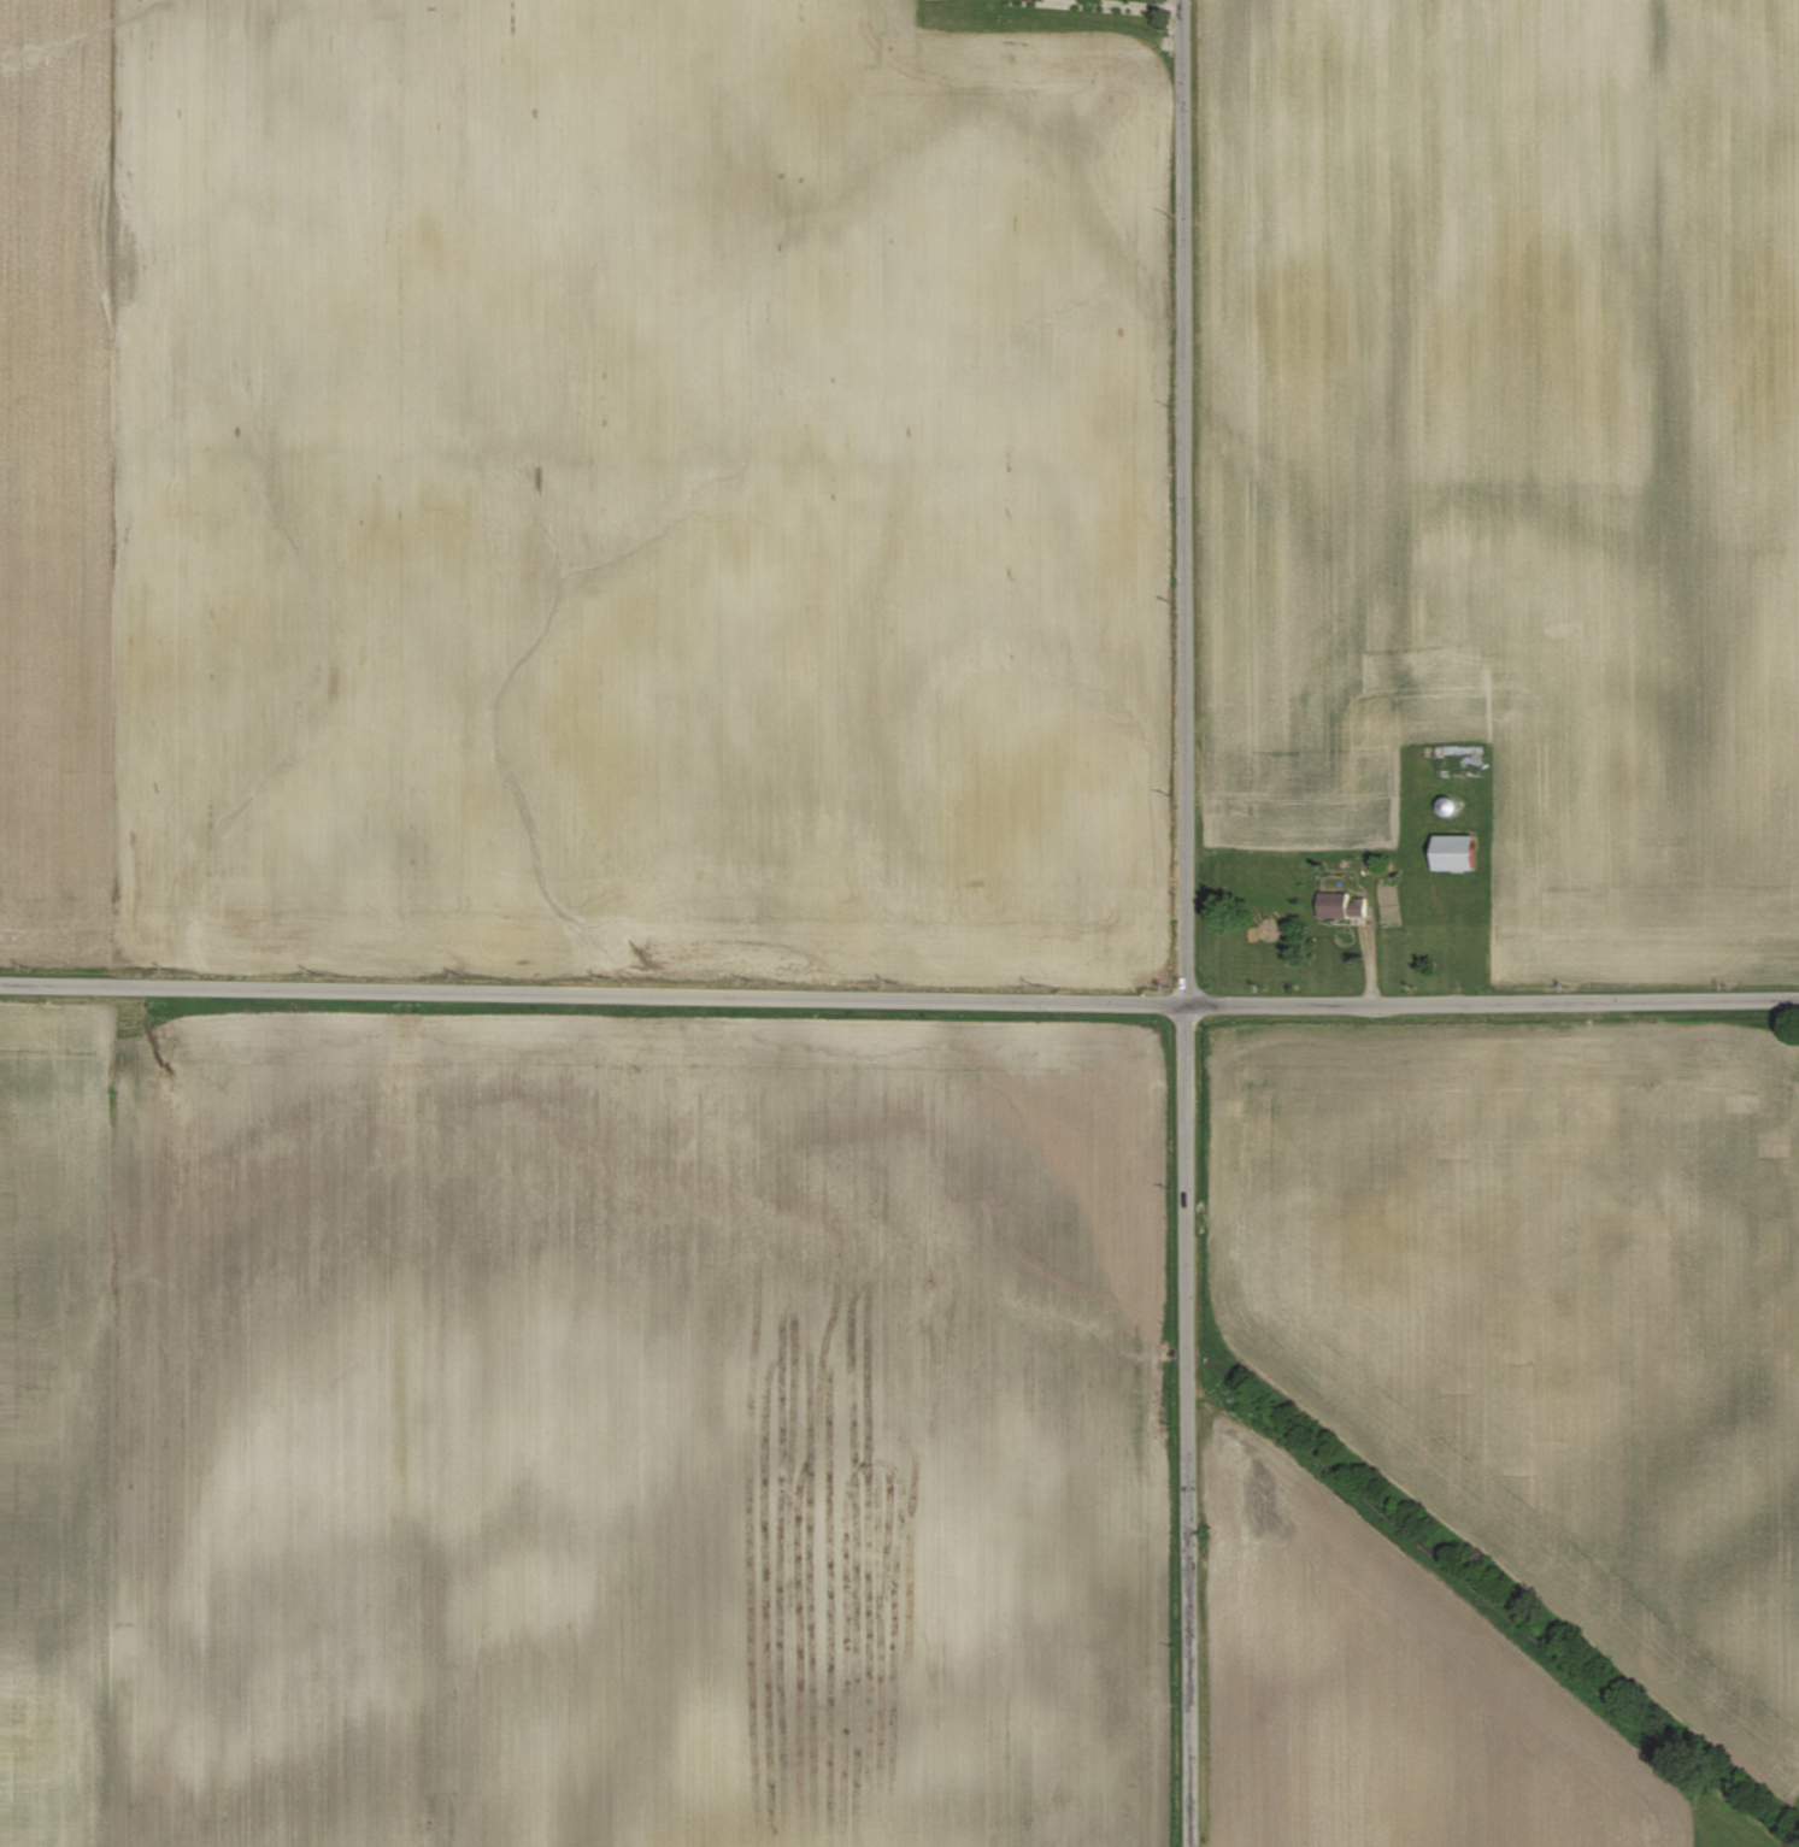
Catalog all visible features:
road: (1183, 501)
building: (1456, 852)
building: (1336, 906)
road: (899, 998)
road: (1188, 1425)

